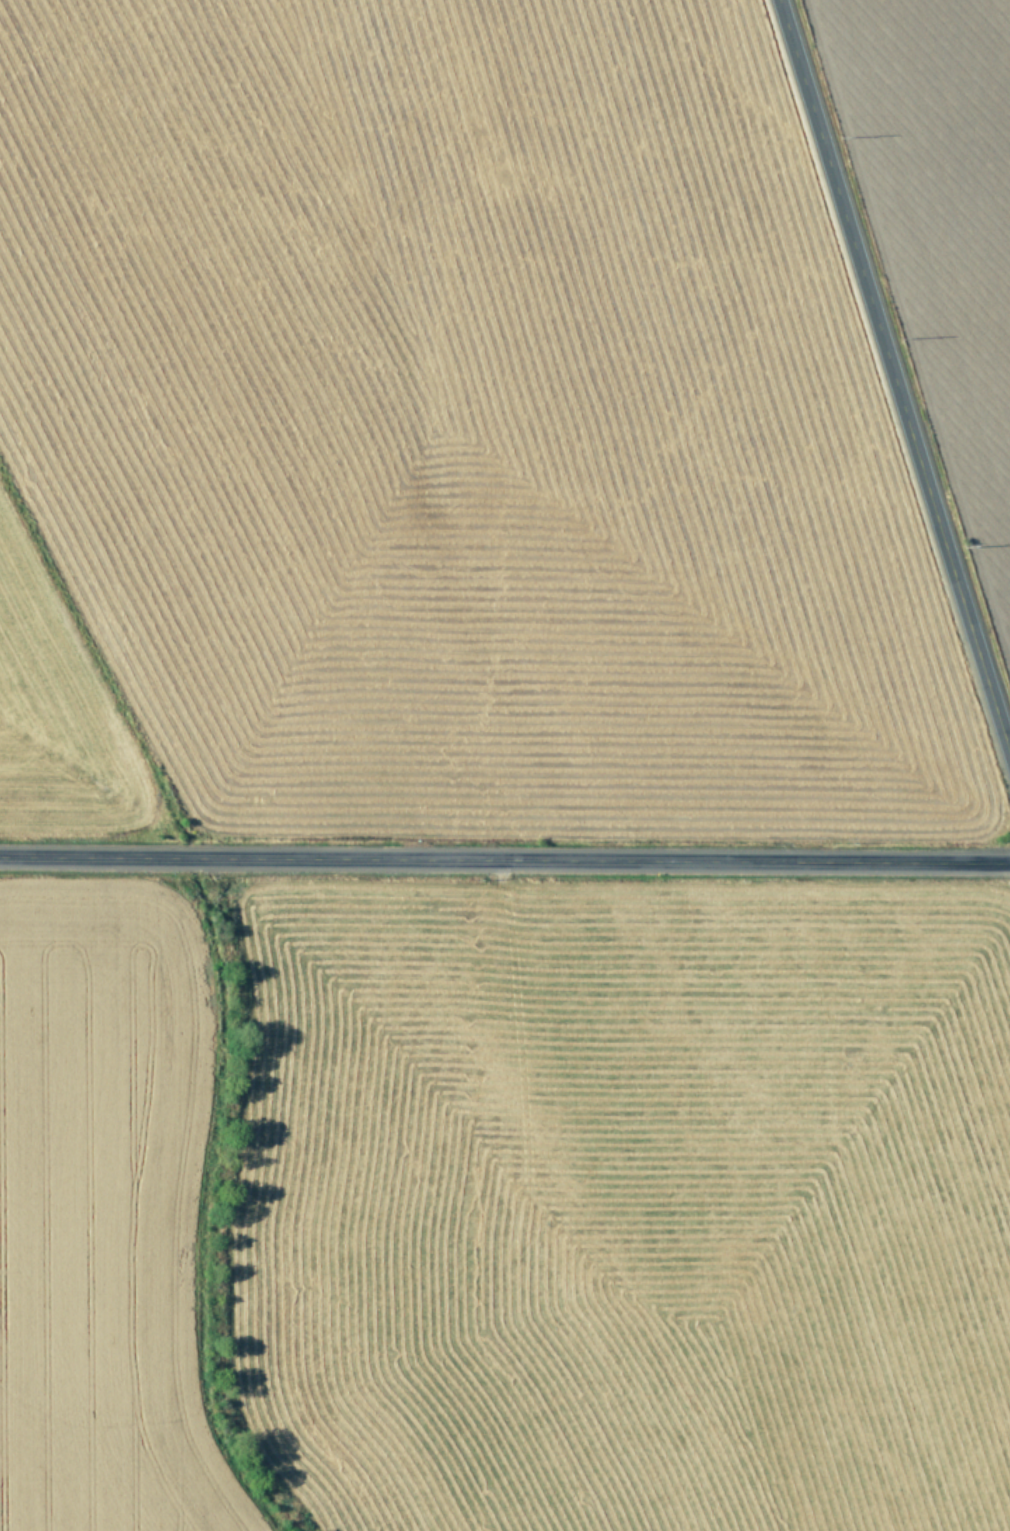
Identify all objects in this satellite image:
crop: (947, 200)
road: (892, 381)
crop: (427, 428)
road: (505, 865)
crop: (502, 1234)

